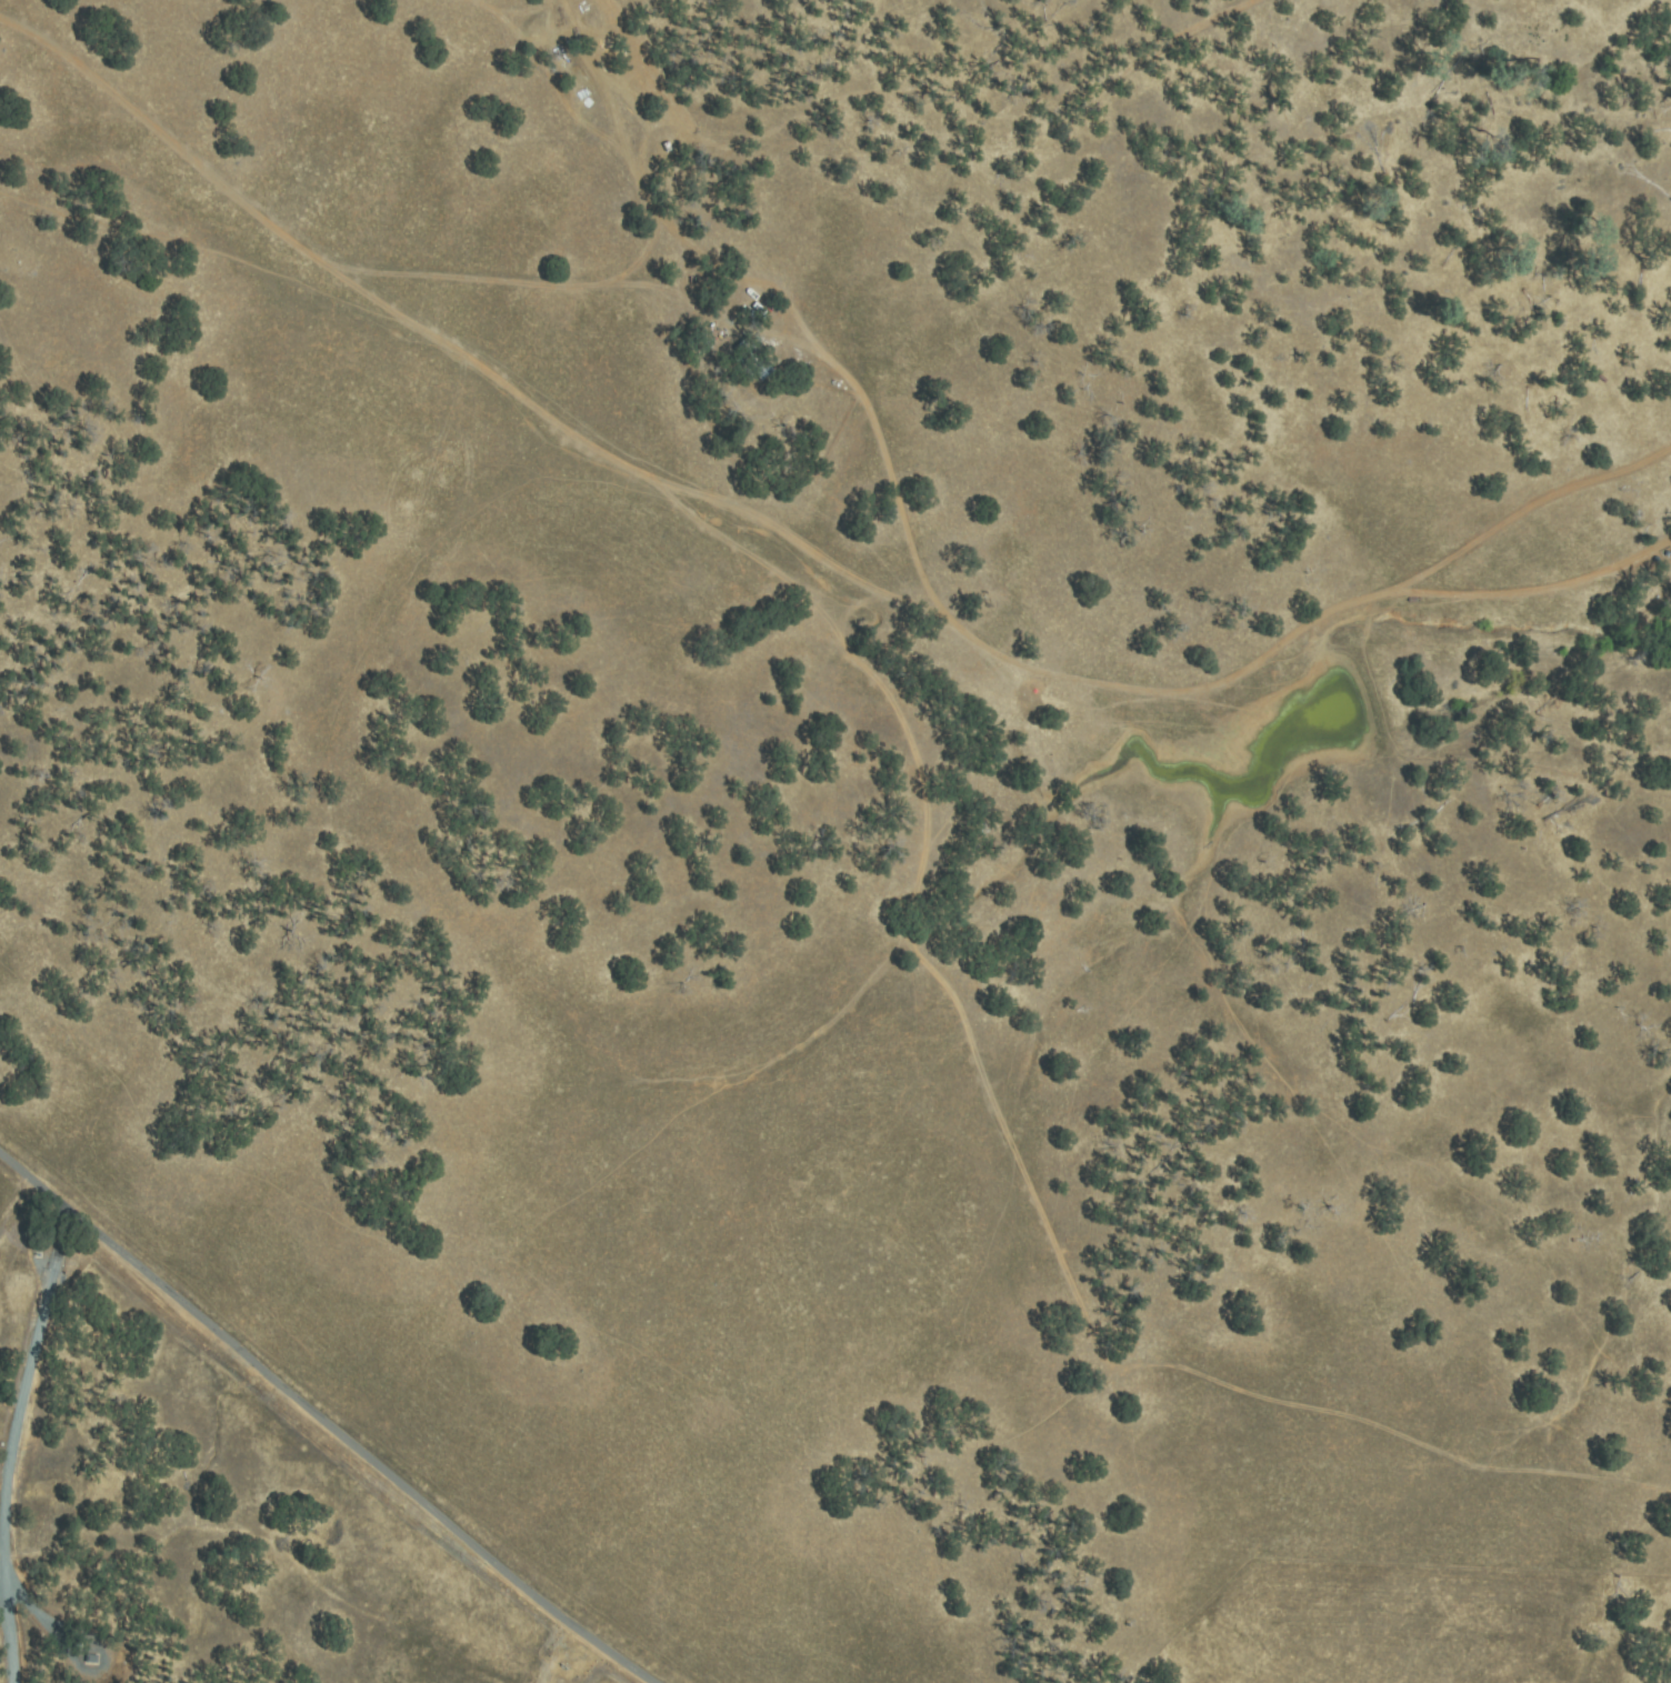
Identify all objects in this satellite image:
building: (756, 359)
road: (332, 1414)
building: (93, 1659)

